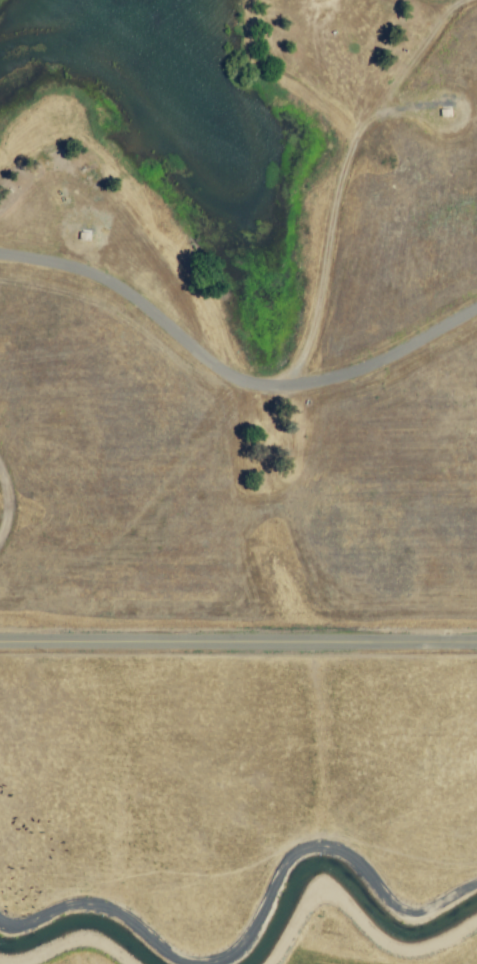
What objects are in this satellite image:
road: (230, 375)
road: (238, 639)
river: (334, 866)
river: (77, 924)
crop: (316, 958)

